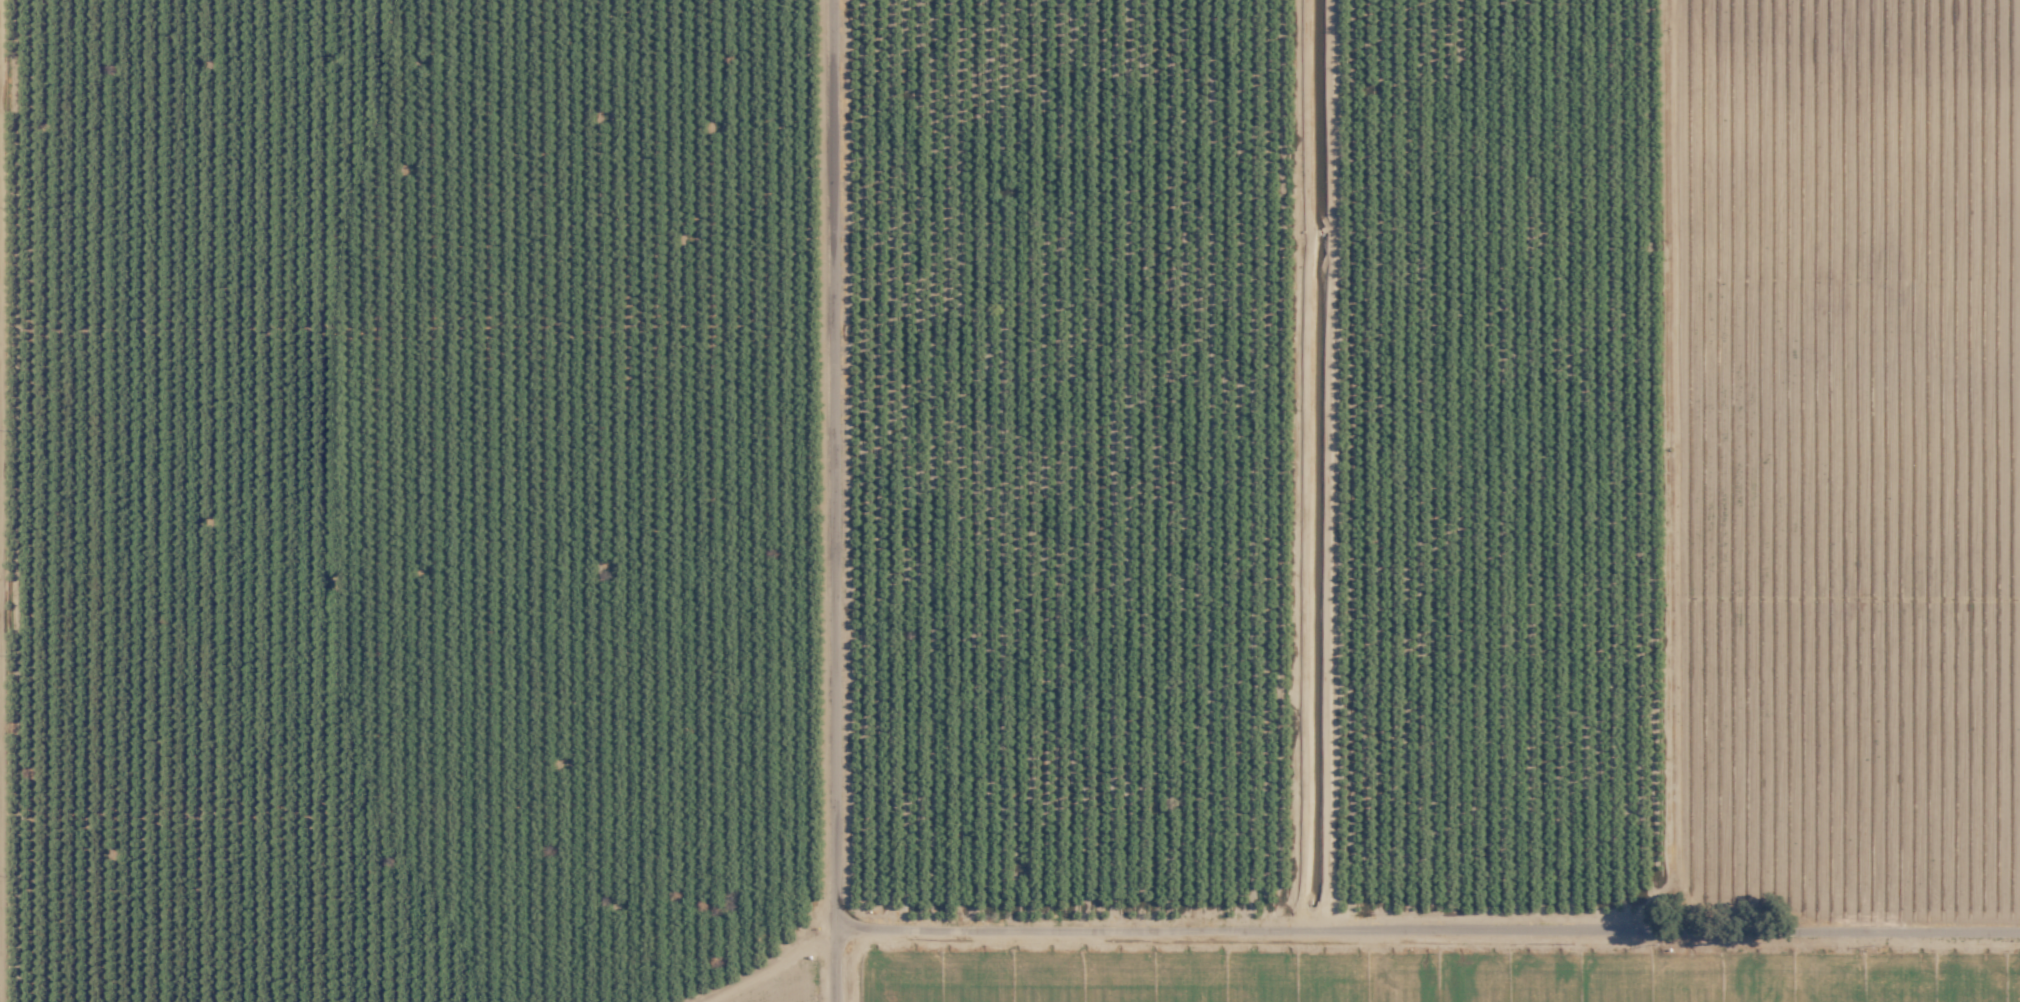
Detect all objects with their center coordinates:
crop: (1259, 450)
crop: (405, 497)
road: (832, 501)
road: (1428, 924)
crop: (1055, 969)
crop: (1638, 970)

